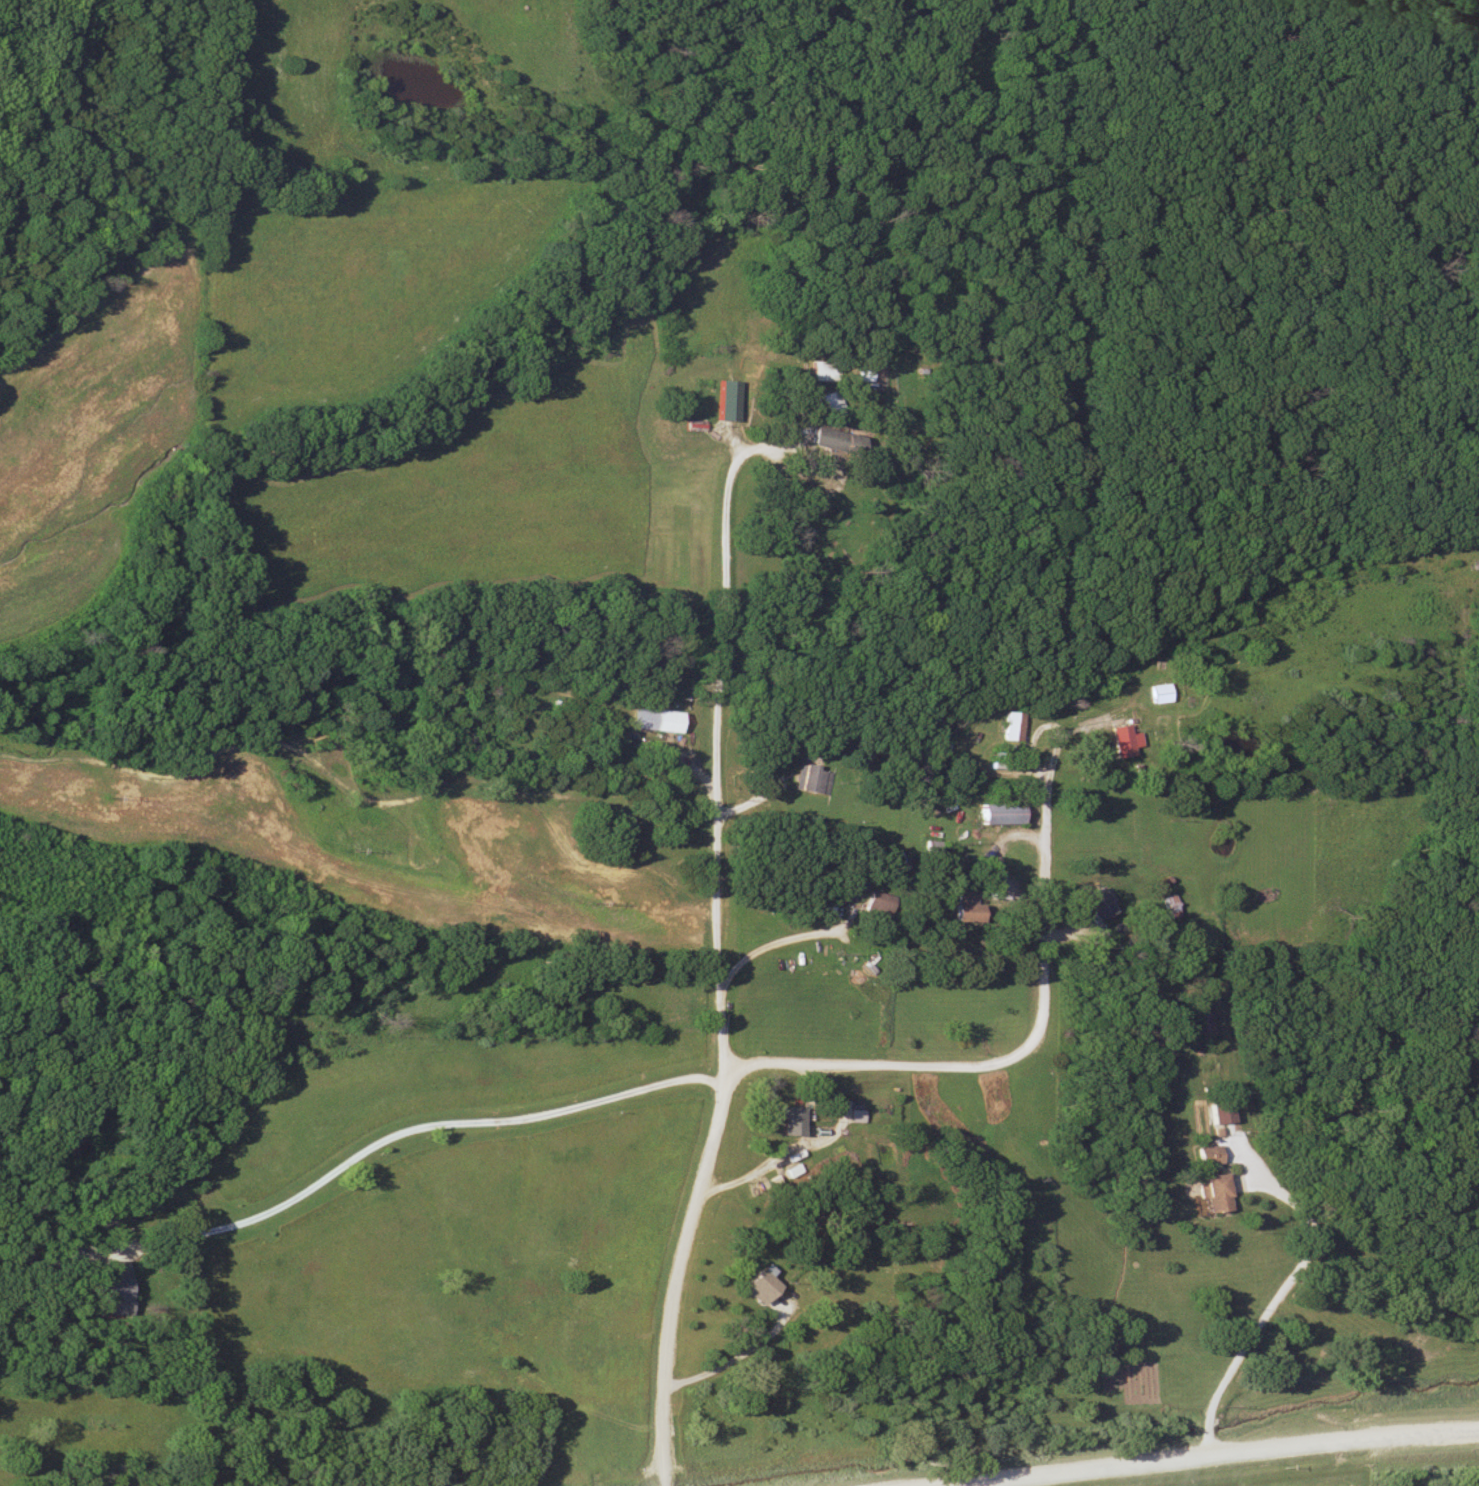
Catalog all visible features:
building: (822, 371)
building: (710, 396)
building: (831, 404)
building: (831, 442)
building: (1158, 693)
building: (654, 720)
building: (1122, 741)
building: (813, 780)
road: (721, 781)
building: (996, 814)
building: (876, 903)
building: (1094, 903)
building: (1169, 906)
building: (962, 907)
road: (784, 941)
road: (916, 1065)
road: (722, 1076)
building: (786, 1122)
road: (397, 1133)
building: (1205, 1155)
building: (899, 1192)
building: (1209, 1193)
road: (671, 1284)
building: (755, 1285)
building: (112, 1286)
road: (1247, 1339)
road: (1218, 1457)

